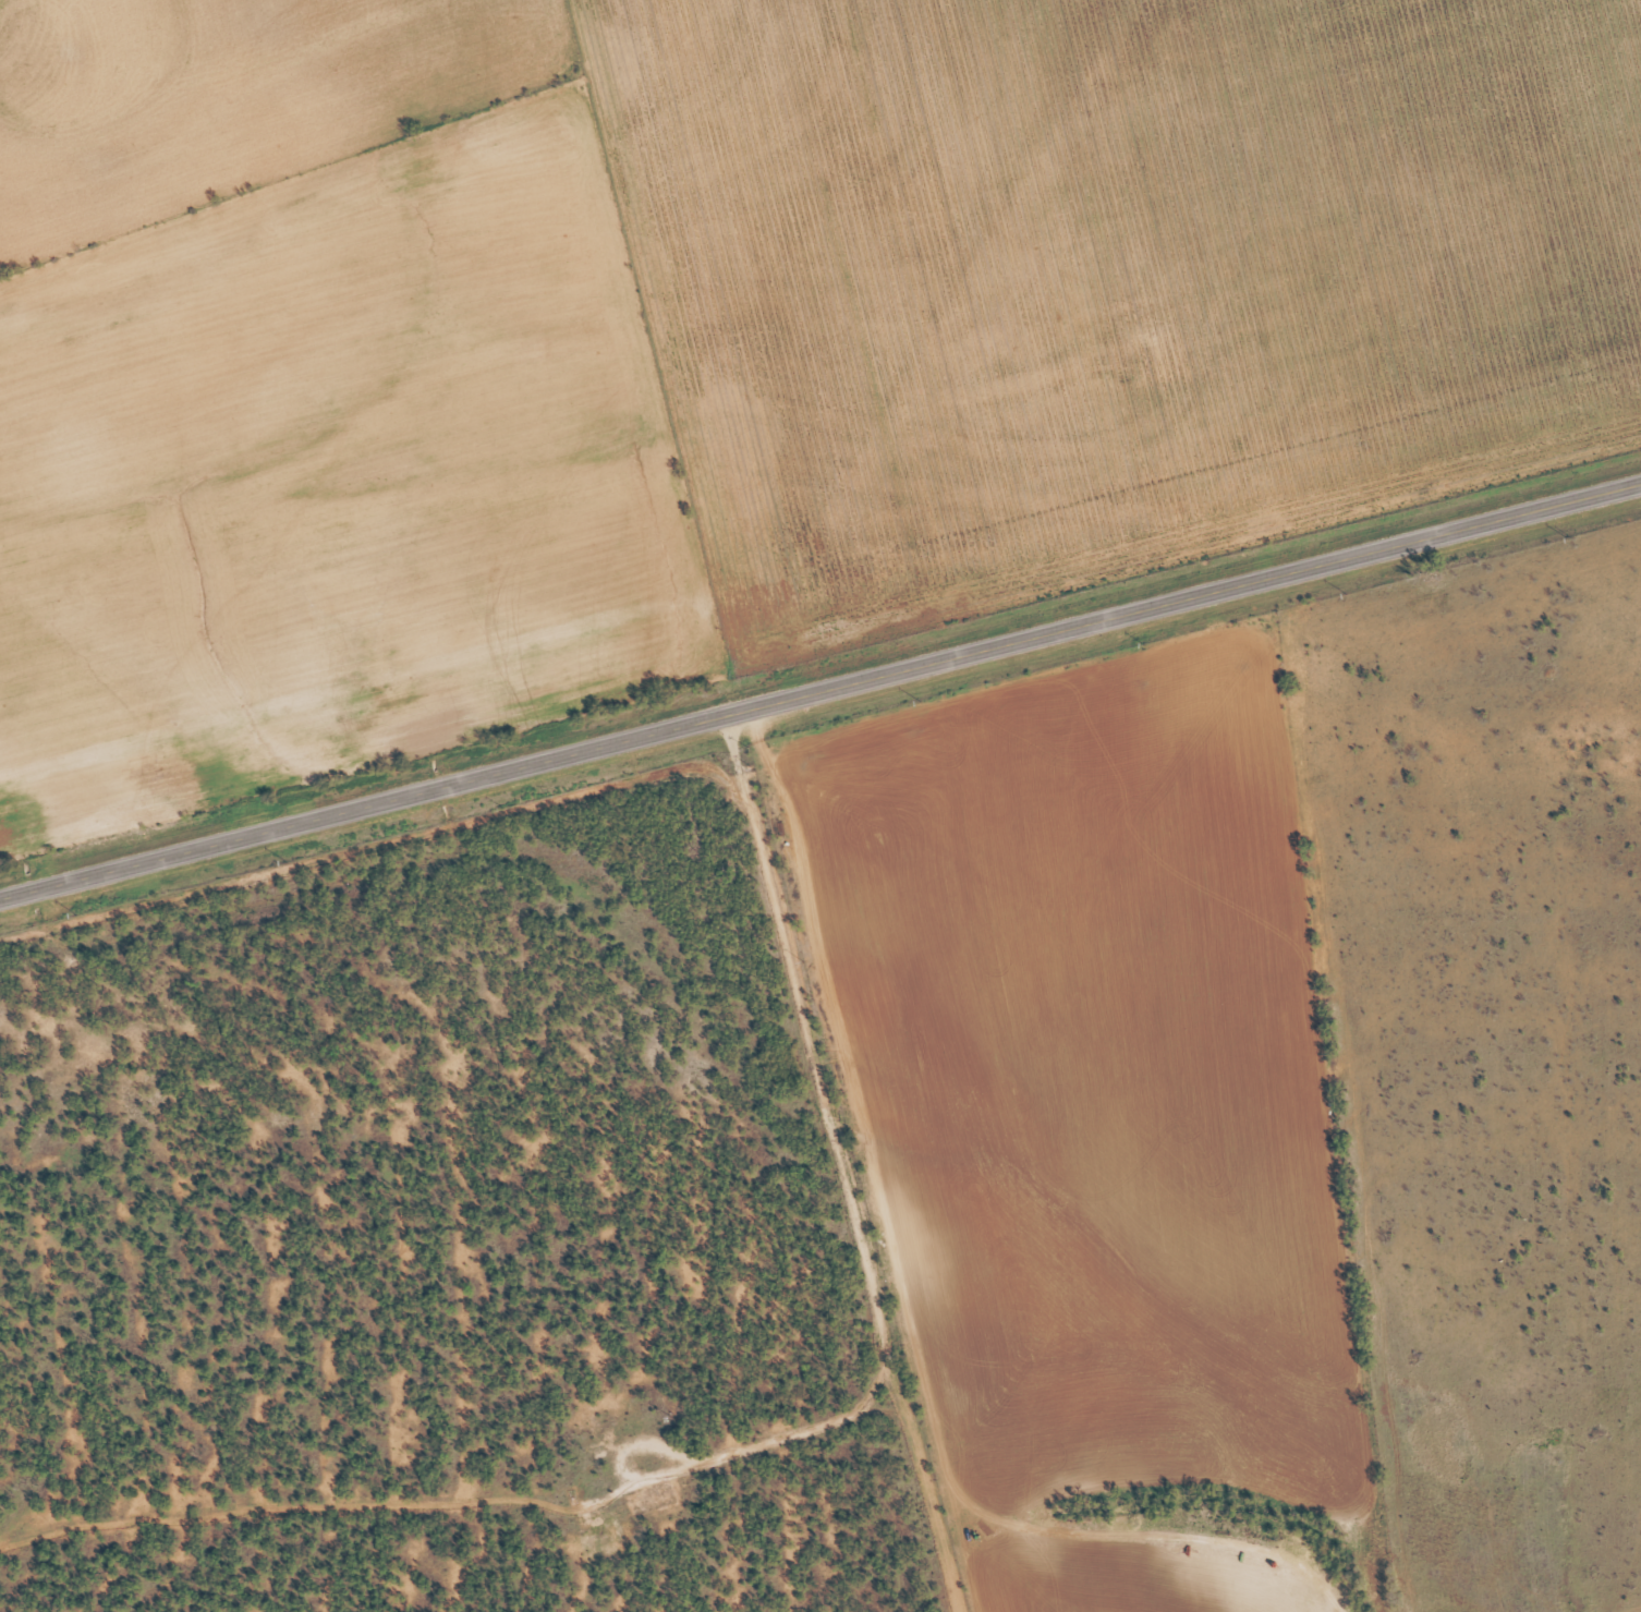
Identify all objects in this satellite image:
road: (819, 691)
road: (863, 1155)

